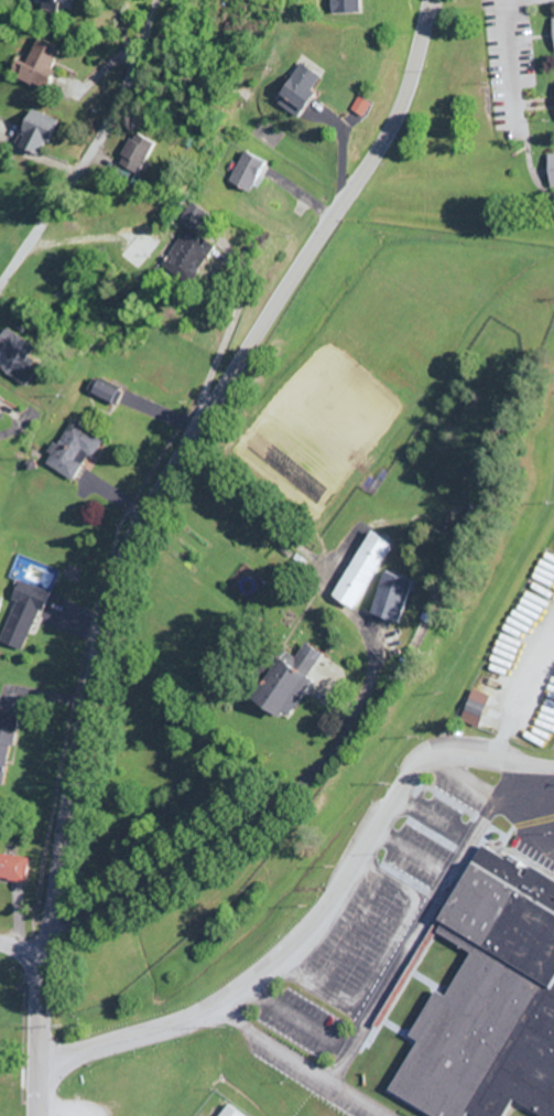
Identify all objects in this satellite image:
building: (56, 6)
building: (347, 7)
building: (552, 26)
road: (127, 33)
road: (513, 54)
building: (40, 65)
building: (297, 93)
building: (362, 108)
building: (34, 133)
road: (346, 144)
road: (89, 151)
building: (134, 155)
building: (553, 164)
building: (248, 173)
building: (192, 247)
building: (19, 358)
building: (106, 395)
building: (0, 397)
building: (73, 452)
road: (140, 523)
building: (362, 571)
building: (390, 598)
building: (22, 618)
building: (285, 682)
building: (474, 709)
building: (6, 743)
road: (269, 806)
building: (13, 868)
road: (318, 920)
road: (23, 951)
building: (489, 1000)
building: (226, 1112)

